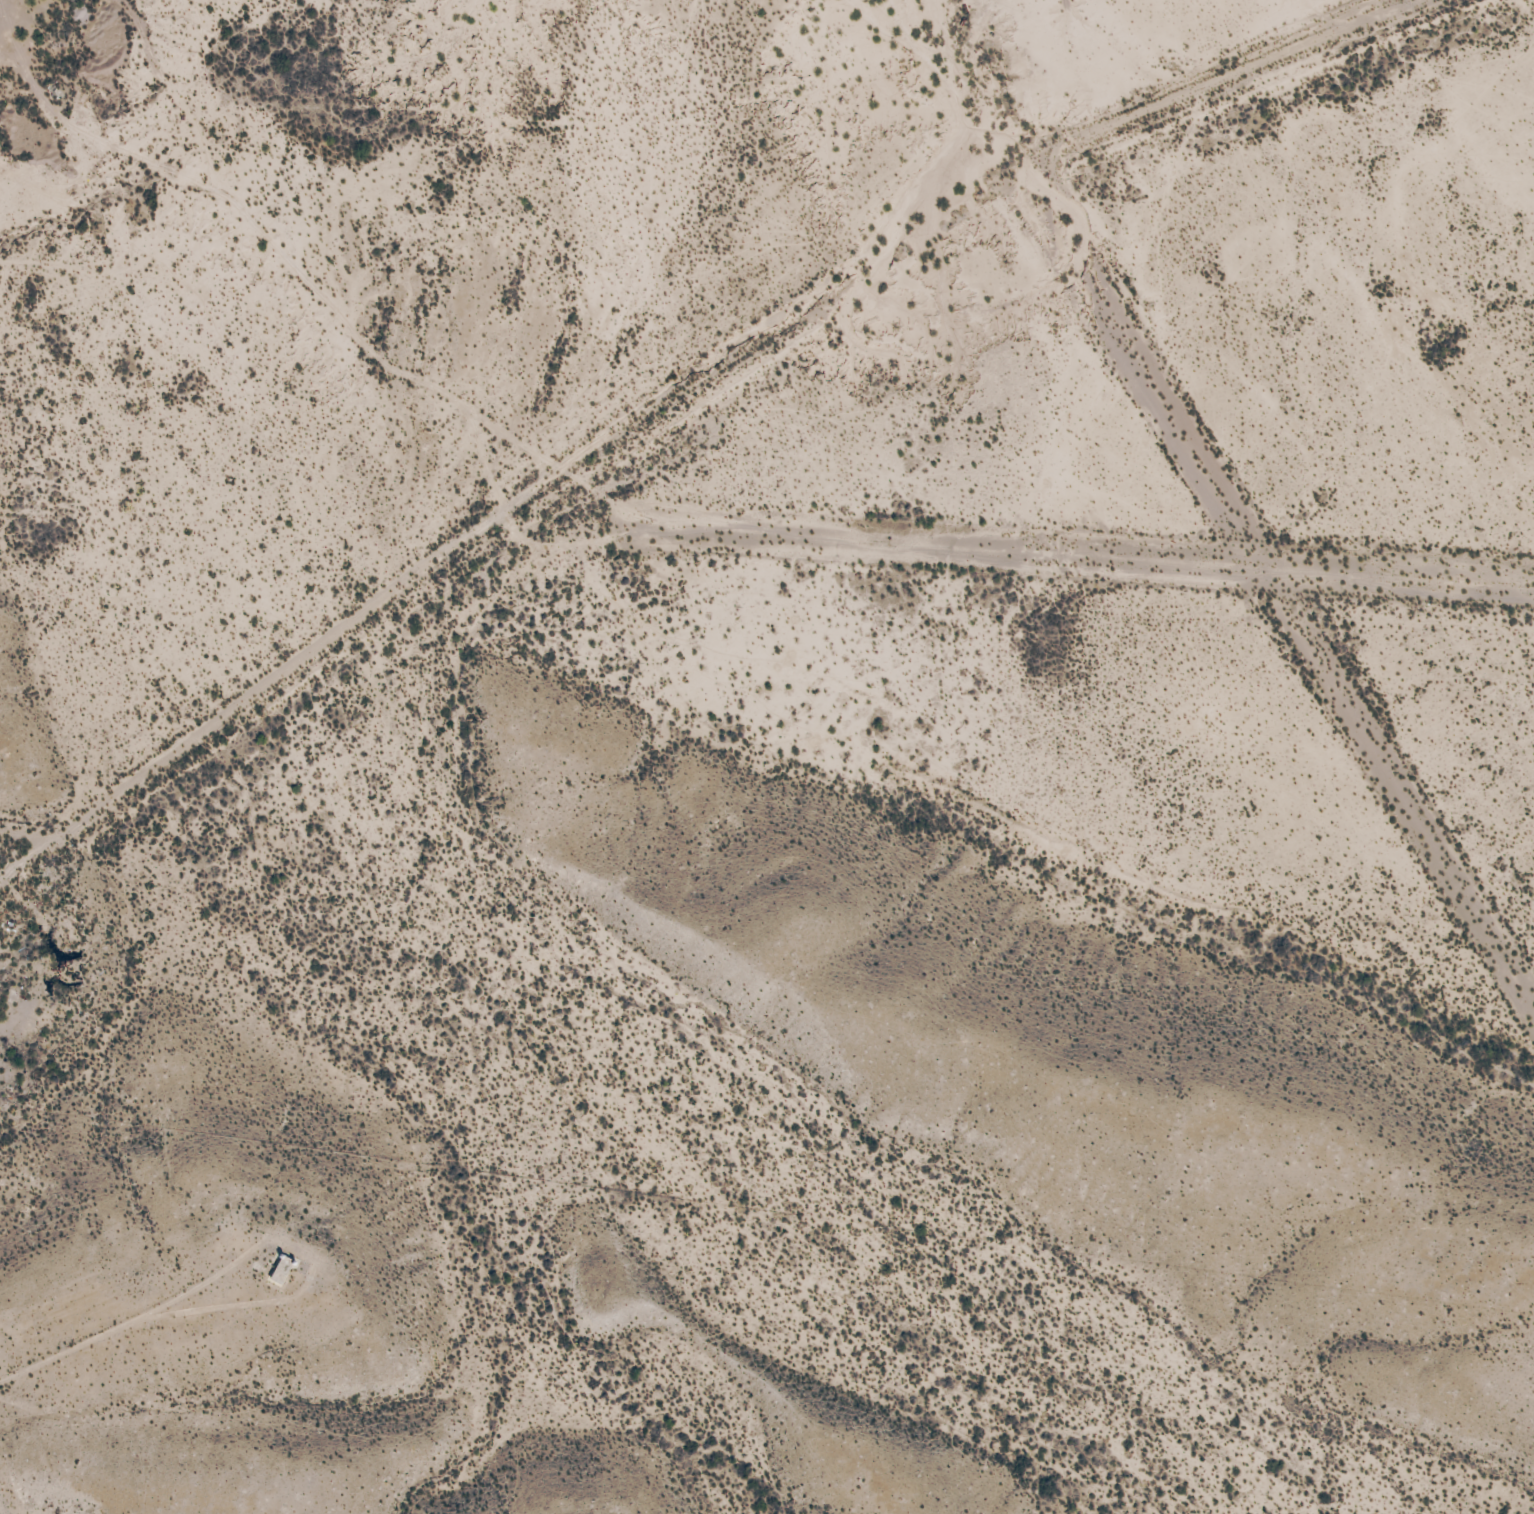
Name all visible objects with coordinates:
road: (680, 390)

